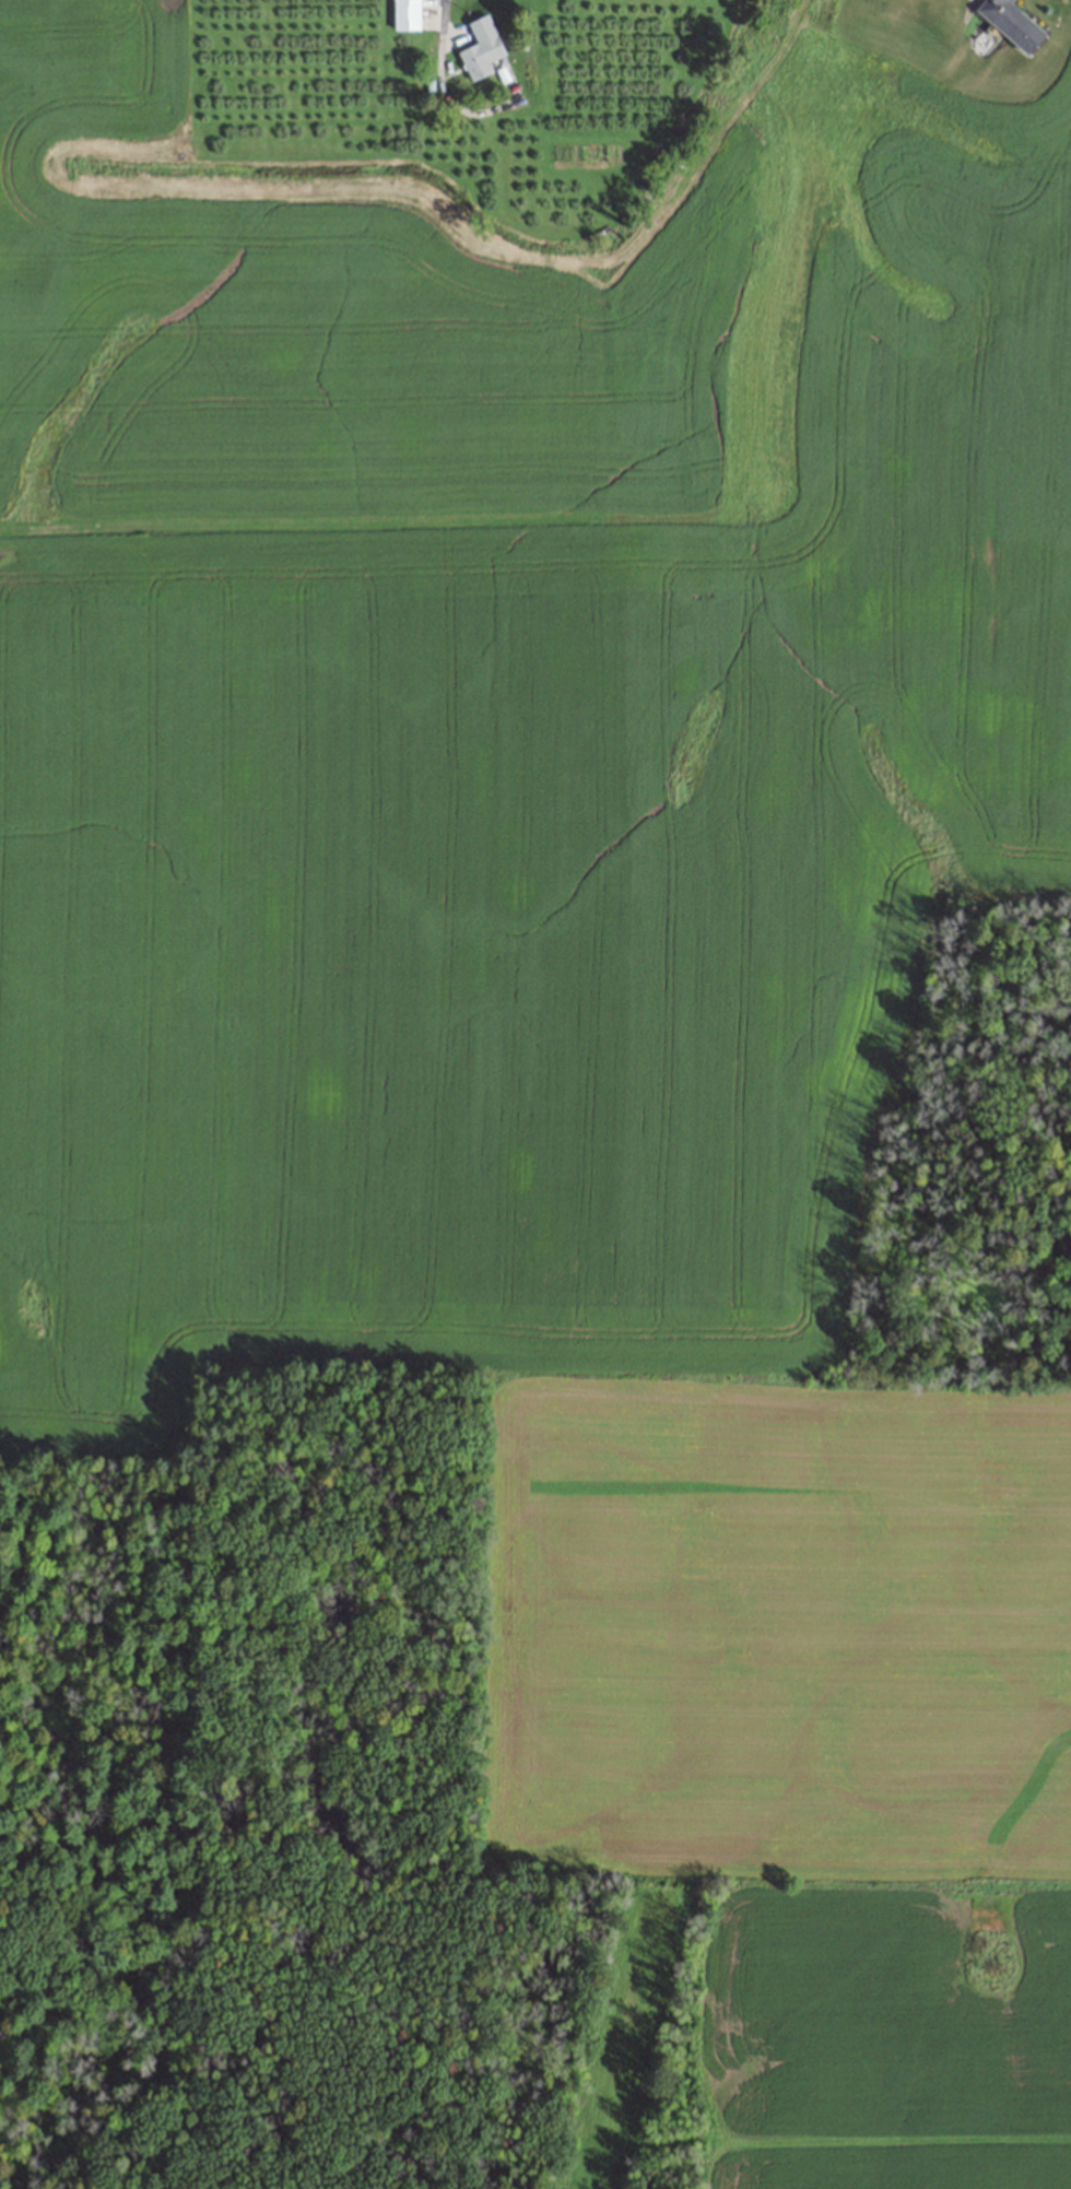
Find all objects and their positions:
building: (407, 14)
building: (481, 48)

